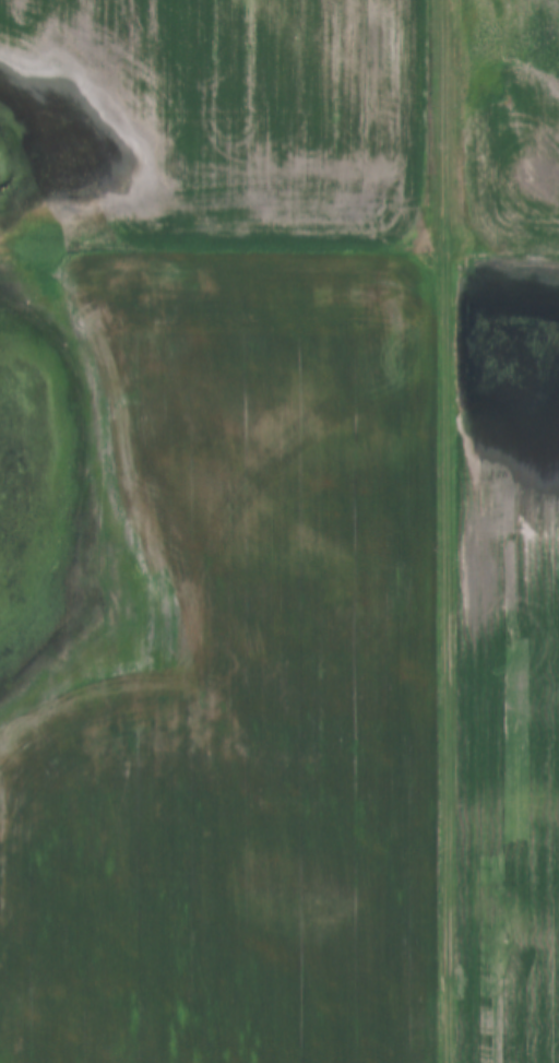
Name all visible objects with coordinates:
road: (445, 531)

